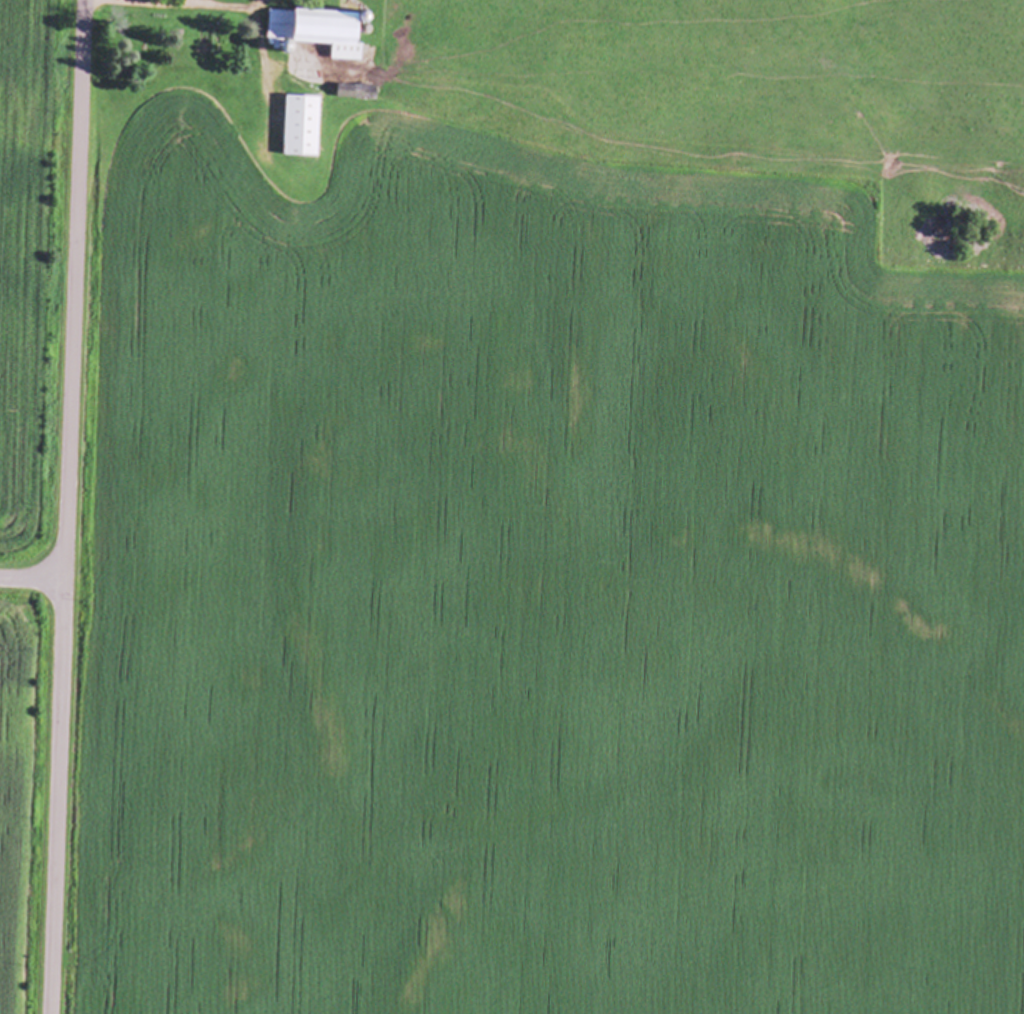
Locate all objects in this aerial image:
road: (158, 3)
building: (313, 33)
building: (353, 92)
building: (298, 127)
road: (67, 506)
road: (32, 578)

